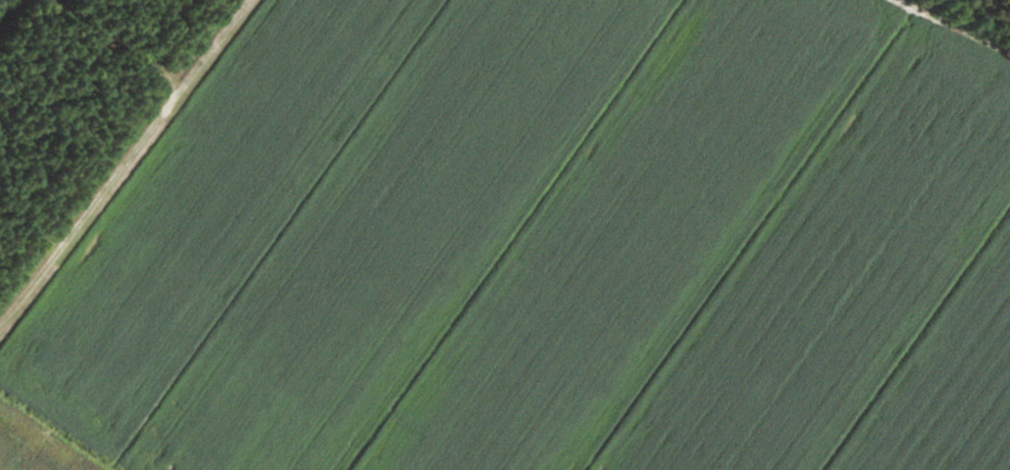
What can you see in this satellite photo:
road: (167, 51)
road: (63, 59)
road: (82, 216)

